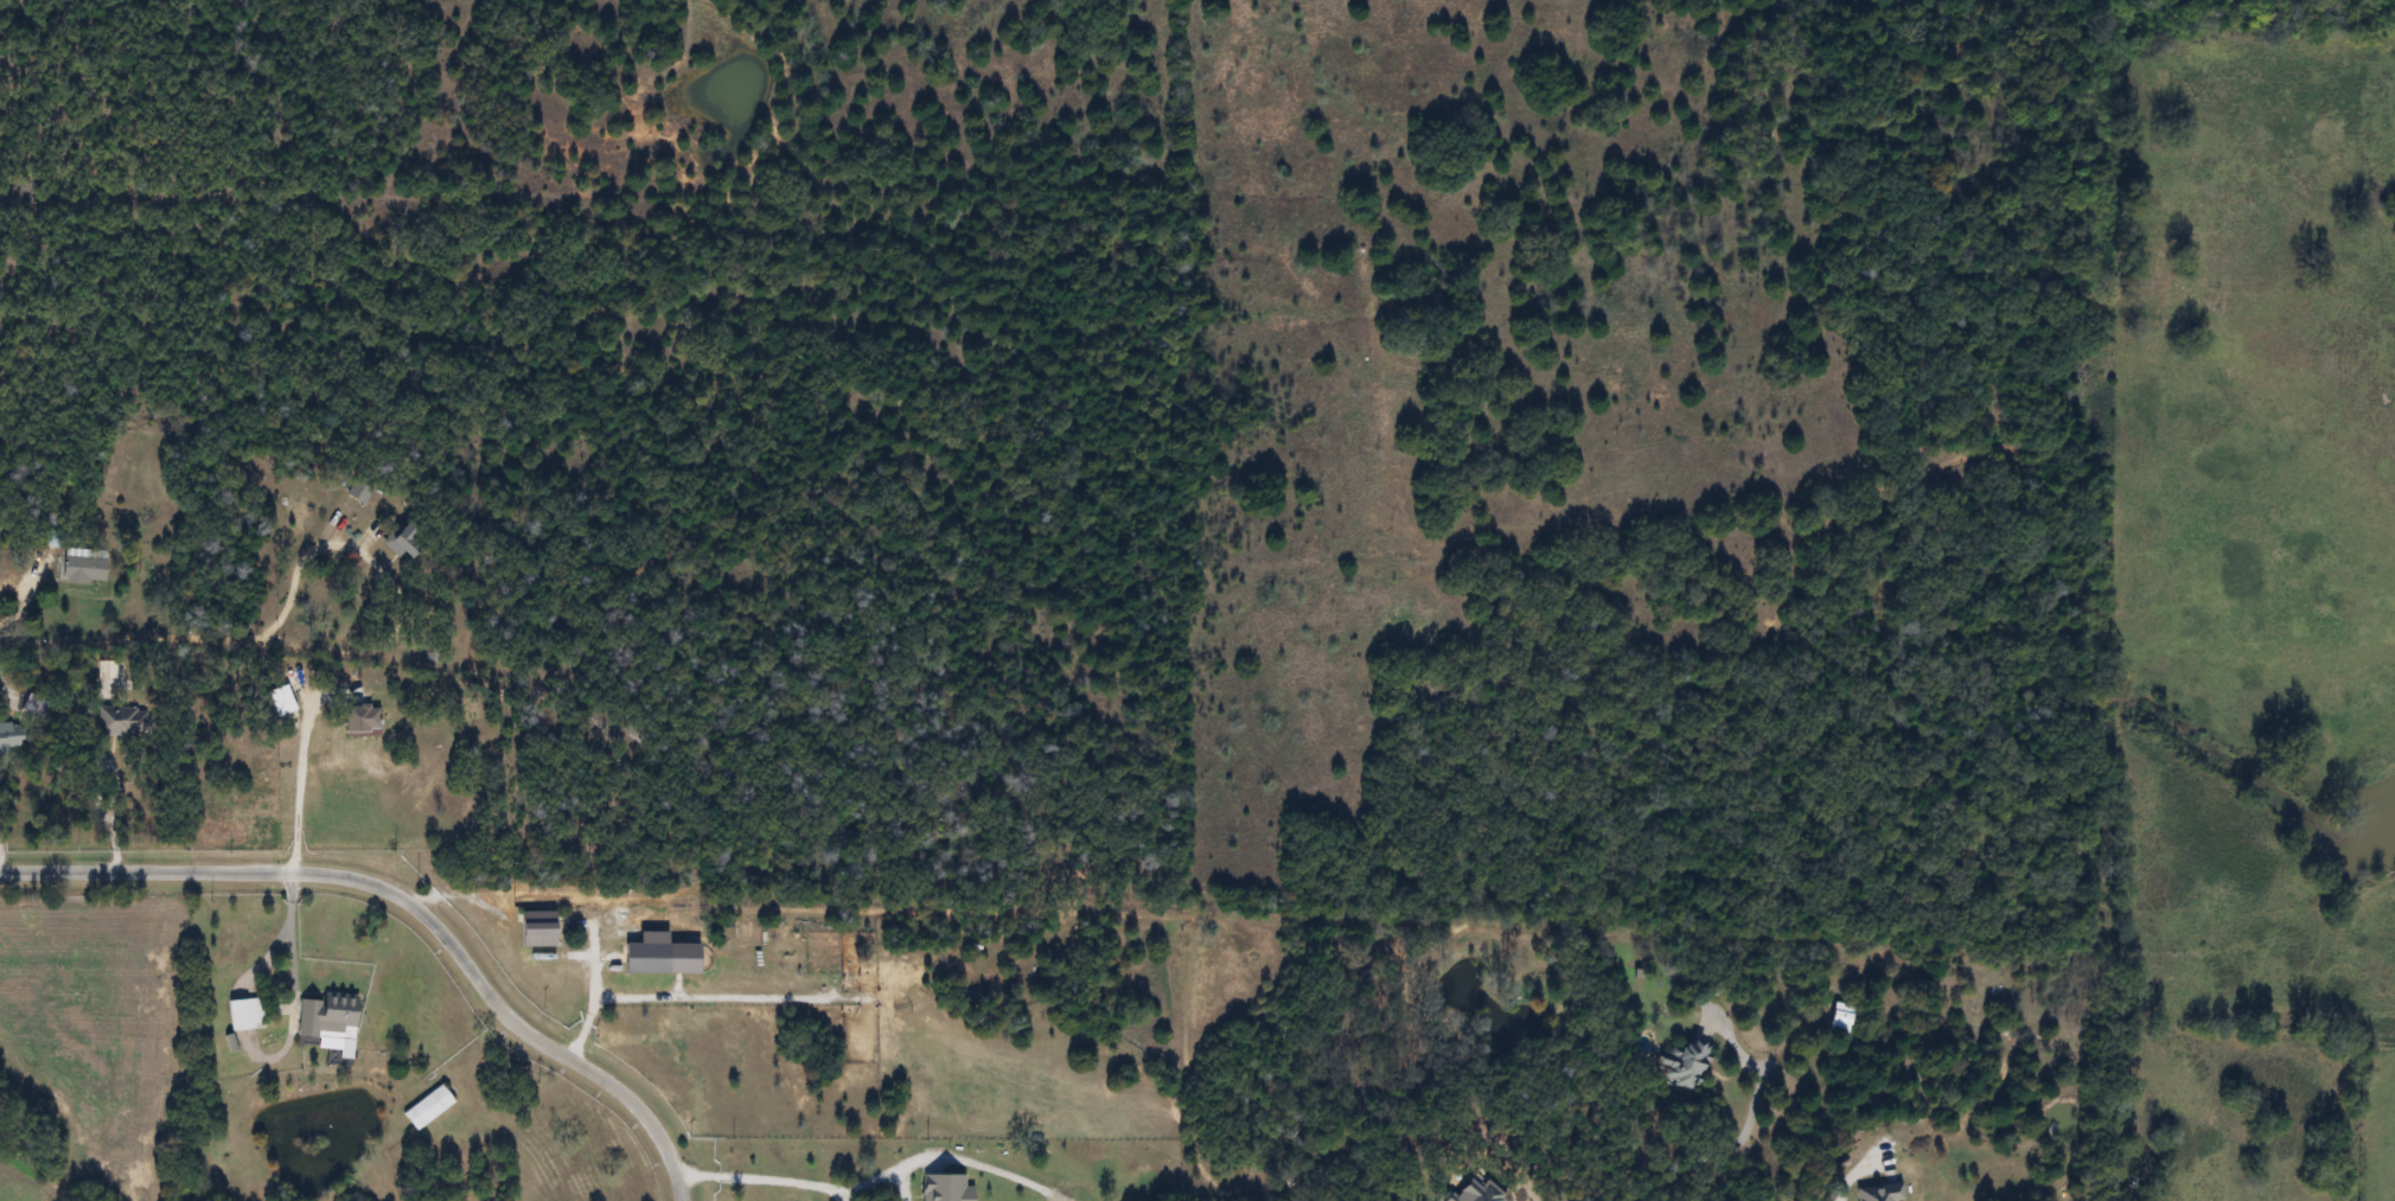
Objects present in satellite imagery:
road: (165, 270)
building: (411, 541)
building: (88, 570)
road: (221, 632)
building: (39, 704)
building: (126, 721)
building: (12, 737)
road: (289, 794)
road: (153, 875)
building: (545, 930)
road: (282, 951)
road: (585, 992)
building: (249, 1014)
building: (1837, 1018)
building: (336, 1020)
road: (506, 1020)
building: (1681, 1065)
building: (432, 1107)
road: (769, 1171)
road: (1838, 1196)

